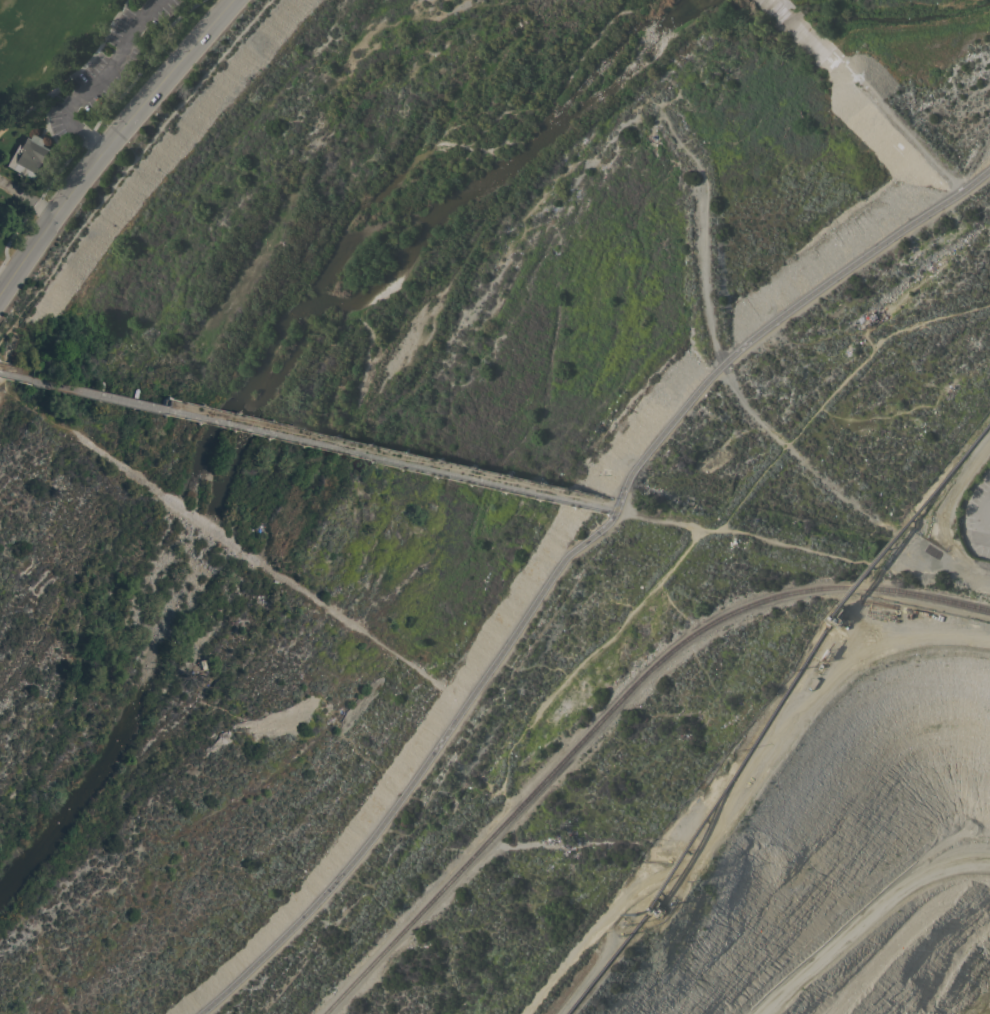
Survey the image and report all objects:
park: (27, 34)
parking lot: (106, 66)
road: (73, 75)
park: (69, 84)
road: (102, 117)
road: (112, 147)
building: (27, 155)
road: (119, 178)
road: (778, 315)
road: (5, 331)
river: (251, 389)
road: (300, 441)
road: (607, 509)
road: (984, 509)
parking lot: (976, 514)
road: (984, 519)
railway: (613, 709)
road: (520, 735)
road: (418, 771)
quarry: (843, 851)

